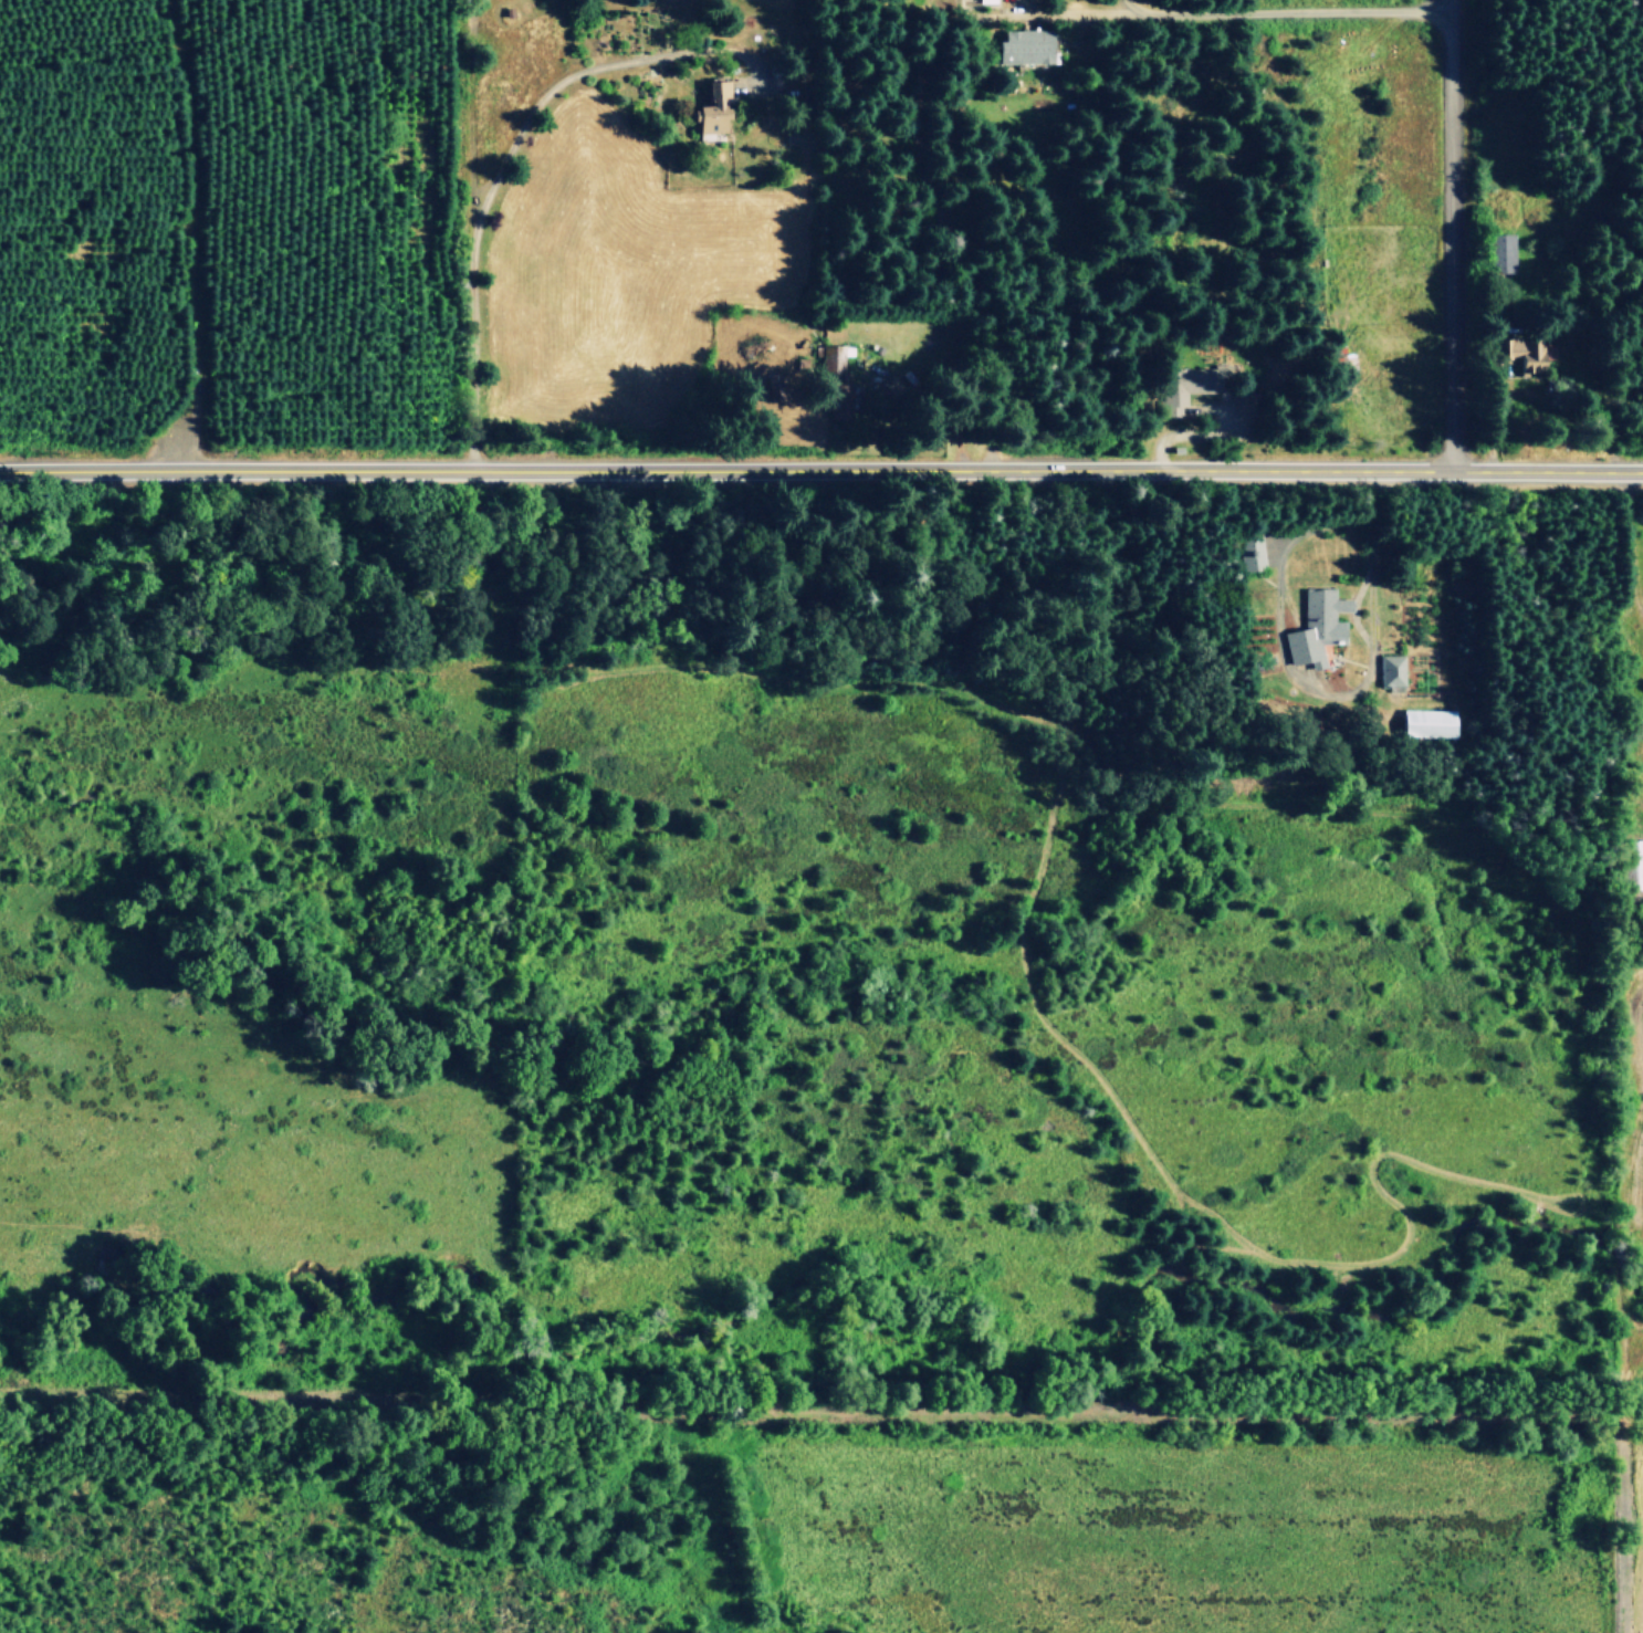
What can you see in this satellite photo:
building: (983, 2)
road: (1134, 9)
road: (1235, 13)
building: (1022, 46)
building: (713, 109)
road: (221, 233)
road: (1451, 234)
building: (1503, 252)
building: (1530, 352)
building: (831, 373)
building: (1191, 384)
road: (1203, 408)
road: (1187, 436)
building: (1175, 448)
road: (821, 468)
road: (1268, 515)
building: (1250, 553)
road: (1352, 607)
building: (1317, 627)
building: (1390, 671)
road: (1317, 693)
building: (1425, 723)
building: (1636, 865)

